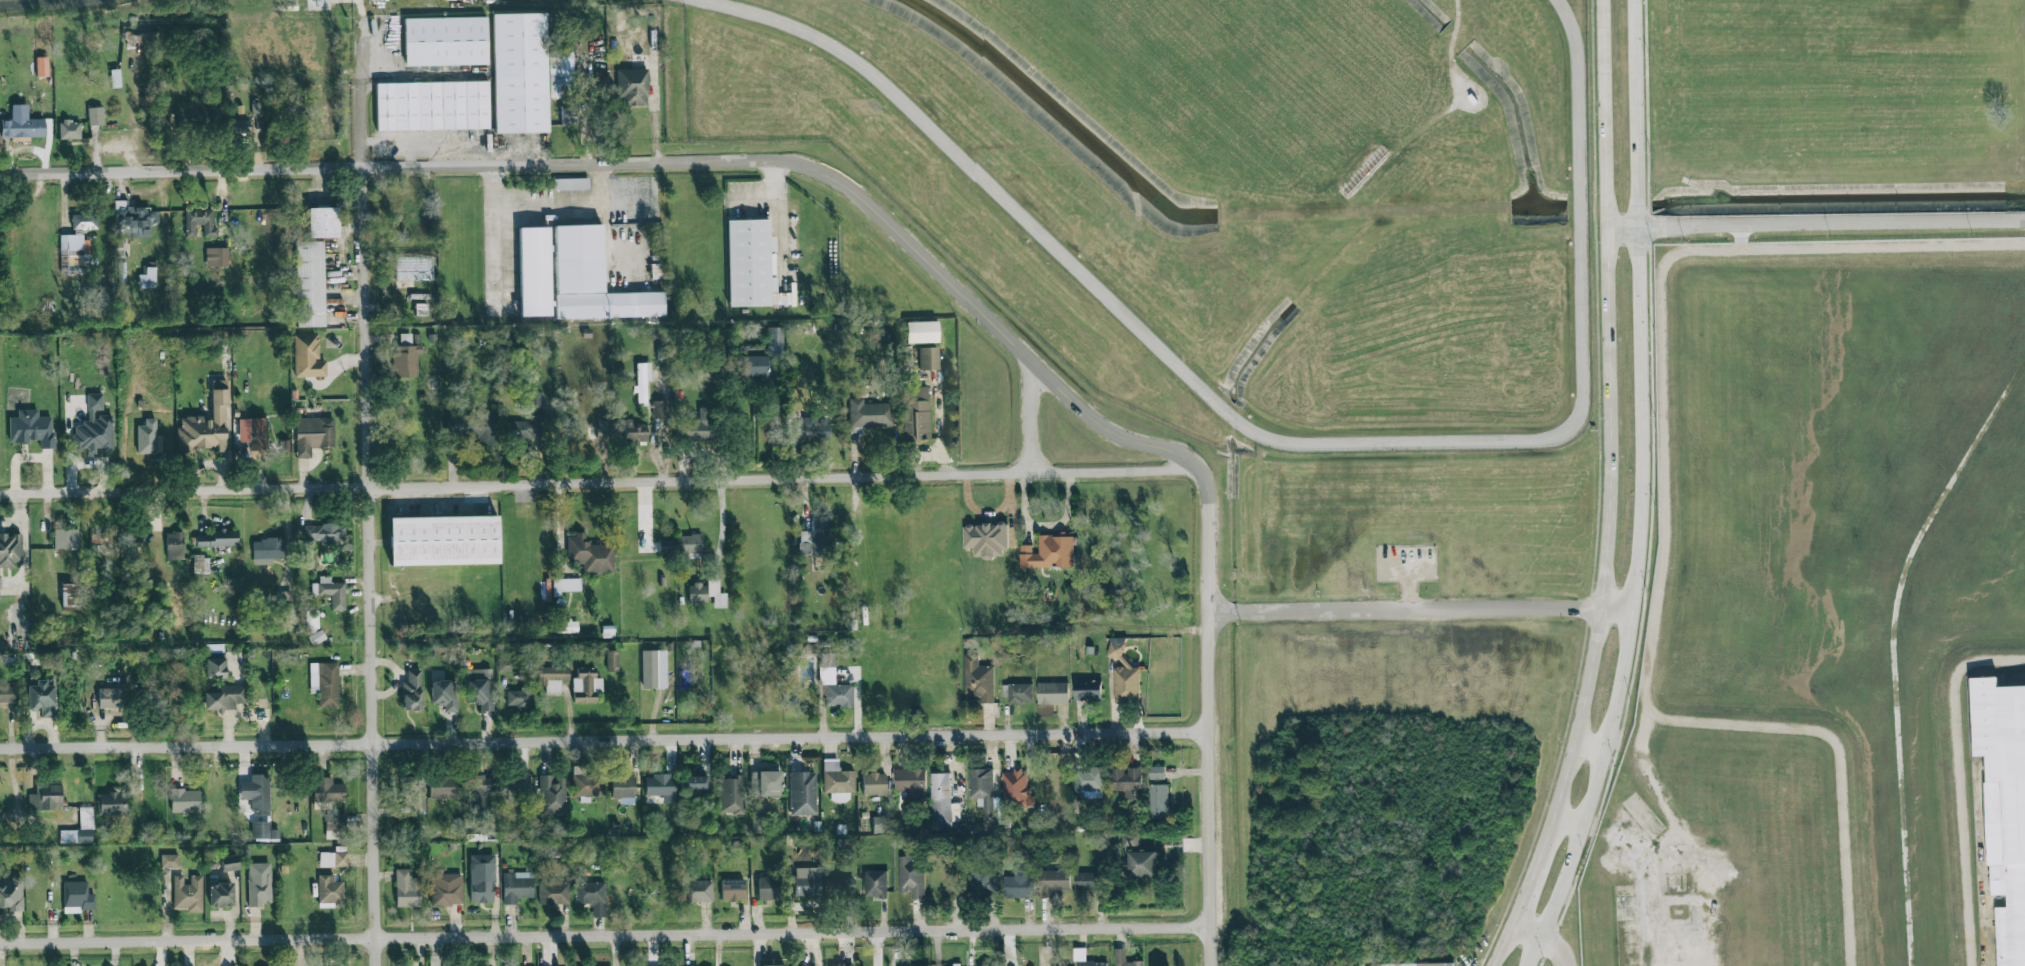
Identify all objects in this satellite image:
road: (1450, 54)
building: (560, 71)
building: (473, 79)
building: (633, 87)
building: (255, 109)
building: (200, 113)
building: (568, 113)
building: (95, 116)
building: (240, 126)
building: (23, 127)
building: (69, 130)
helipad: (165, 133)
road: (627, 162)
building: (571, 184)
airport: (1215, 195)
road: (547, 204)
road: (777, 206)
building: (131, 219)
building: (84, 220)
building: (199, 222)
building: (322, 222)
road: (1816, 227)
building: (74, 254)
building: (216, 257)
building: (747, 267)
building: (534, 271)
building: (578, 275)
building: (147, 278)
building: (309, 284)
building: (921, 332)
building: (774, 341)
building: (753, 352)
building: (307, 357)
building: (405, 358)
building: (928, 358)
building: (753, 366)
building: (642, 381)
building: (94, 401)
building: (659, 408)
building: (870, 413)
building: (916, 413)
road: (1030, 419)
building: (528, 420)
road: (775, 422)
building: (471, 427)
building: (704, 427)
building: (31, 428)
building: (812, 430)
building: (641, 432)
building: (254, 433)
building: (94, 434)
building: (313, 435)
road: (1279, 445)
building: (284, 446)
building: (147, 447)
road: (602, 481)
road: (1609, 491)
road: (1647, 491)
road: (371, 494)
road: (721, 526)
building: (105, 538)
building: (815, 538)
building: (216, 539)
building: (986, 540)
building: (443, 542)
building: (65, 543)
building: (680, 544)
building: (174, 546)
building: (267, 549)
building: (10, 550)
building: (589, 554)
building: (1048, 554)
building: (307, 557)
building: (200, 564)
building: (569, 585)
building: (330, 592)
building: (716, 592)
building: (697, 593)
building: (70, 595)
building: (285, 597)
road: (1427, 599)
building: (313, 626)
building: (567, 626)
building: (612, 659)
building: (506, 664)
building: (215, 668)
building: (653, 669)
building: (1123, 674)
building: (552, 678)
building: (978, 680)
building: (324, 683)
building: (833, 683)
building: (586, 686)
road: (1210, 688)
building: (480, 689)
building: (1087, 691)
building: (412, 692)
building: (7, 694)
building: (1052, 694)
building: (444, 695)
building: (1020, 695)
building: (519, 696)
building: (109, 698)
building: (41, 699)
building: (224, 699)
road: (1594, 733)
road: (604, 739)
building: (1156, 773)
building: (837, 778)
building: (1088, 779)
building: (1125, 781)
building: (696, 782)
building: (765, 783)
building: (621, 784)
building: (874, 784)
building: (911, 784)
building: (588, 785)
building: (514, 786)
building: (659, 786)
building: (444, 787)
building: (479, 787)
building: (1016, 789)
building: (327, 790)
building: (256, 794)
building: (803, 794)
building: (45, 795)
building: (412, 795)
building: (552, 795)
building: (731, 795)
building: (984, 795)
building: (184, 800)
building: (1158, 802)
building: (942, 803)
building: (112, 804)
building: (2003, 809)
road: (1572, 814)
building: (759, 816)
building: (335, 822)
building: (880, 825)
building: (80, 829)
building: (263, 831)
building: (1130, 838)
building: (333, 860)
building: (169, 861)
building: (229, 864)
building: (1142, 866)
building: (911, 878)
building: (481, 879)
building: (806, 882)
building: (982, 882)
building: (1089, 882)
building: (1053, 883)
building: (258, 884)
building: (839, 885)
building: (875, 885)
building: (1019, 885)
building: (516, 887)
building: (406, 889)
building: (768, 889)
building: (732, 890)
building: (697, 891)
building: (329, 892)
building: (553, 892)
building: (187, 894)
building: (445, 894)
building: (11, 895)
building: (220, 896)
building: (591, 896)
building: (77, 898)
road: (605, 934)
road: (1529, 934)
road: (1555, 951)
building: (1084, 958)
building: (1124, 959)
building: (840, 964)
building: (1060, 964)
building: (1413, 964)
building: (671, 965)
building: (774, 965)
building: (810, 965)
building: (916, 965)
building: (989, 965)

